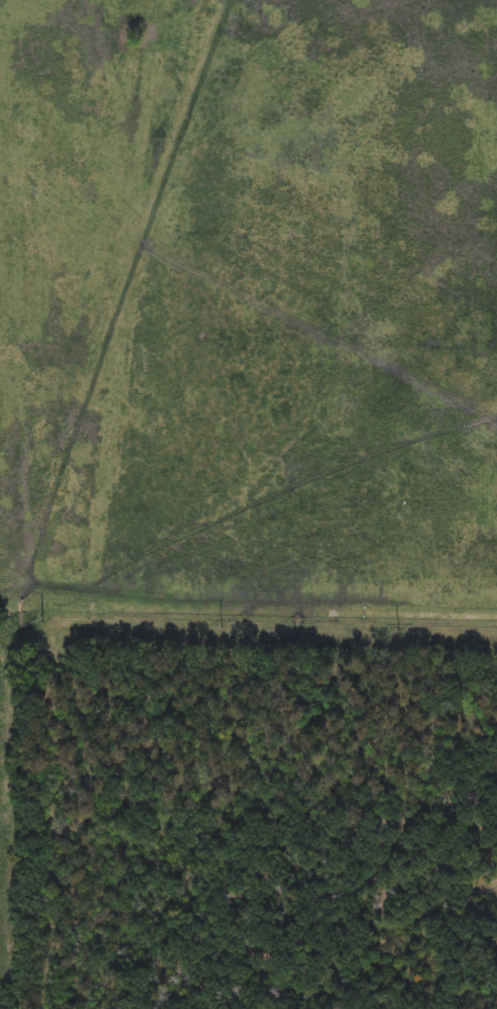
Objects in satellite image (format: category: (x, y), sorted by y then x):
power tower: (42, 621)
power tower: (222, 628)
power tower: (398, 633)

